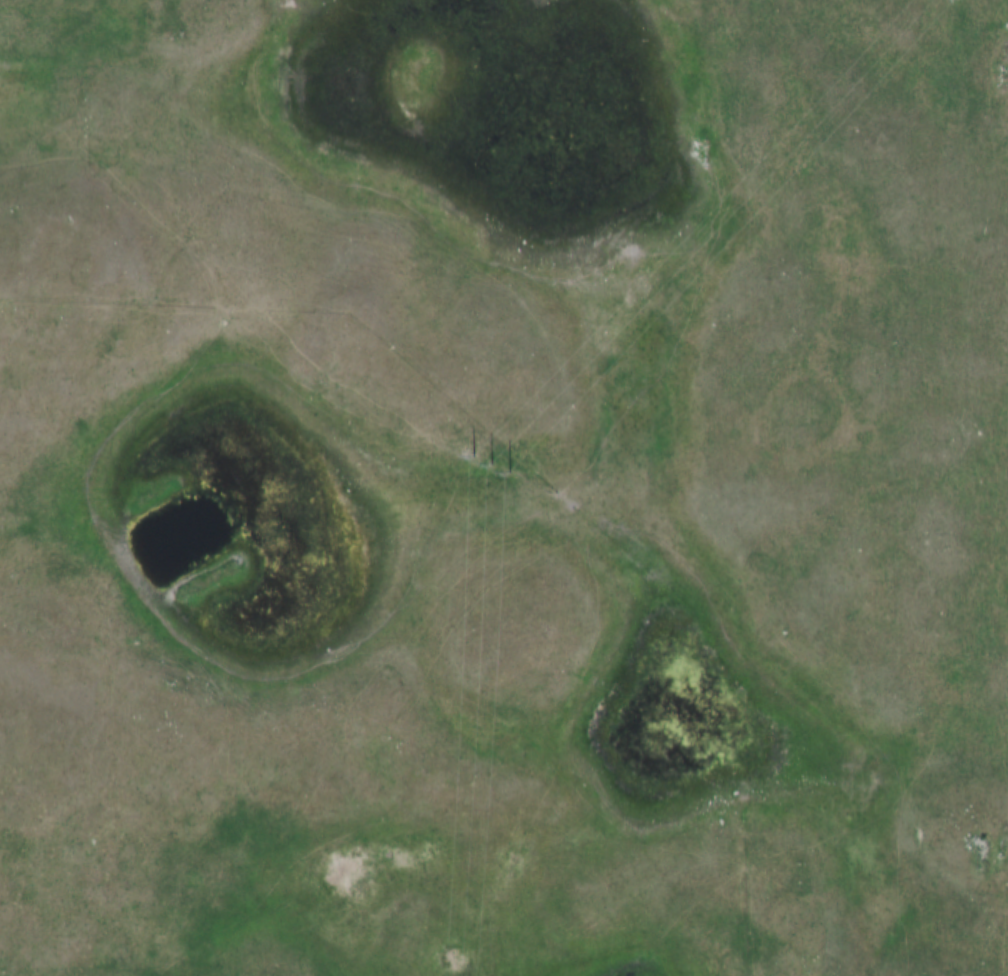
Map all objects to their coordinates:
power tower: (495, 460)

